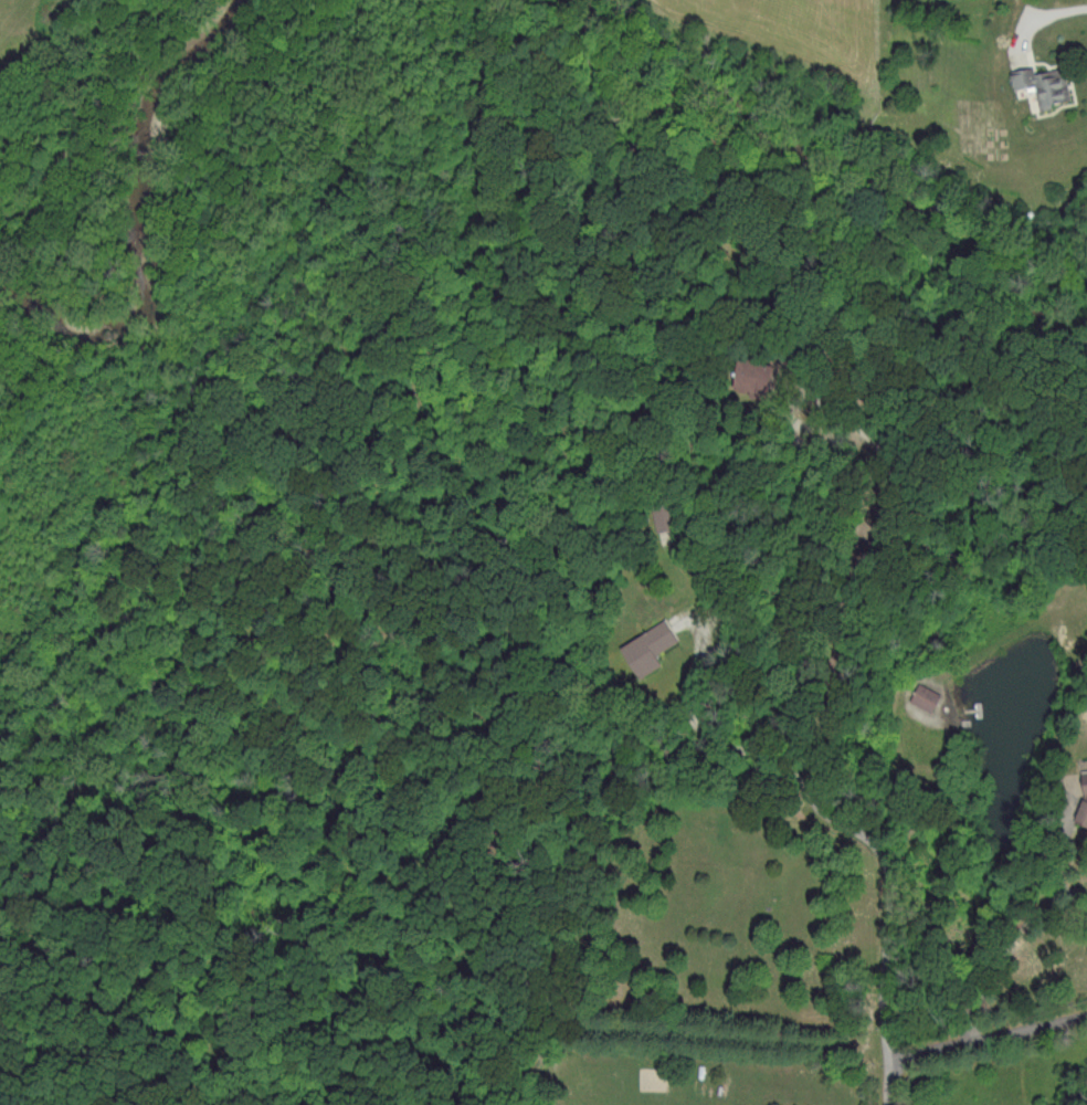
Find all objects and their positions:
road: (1044, 14)
building: (1035, 84)
road: (872, 557)
building: (644, 648)
building: (921, 695)
building: (1079, 798)
road: (826, 821)
road: (1037, 922)
road: (986, 1042)
road: (886, 1081)

